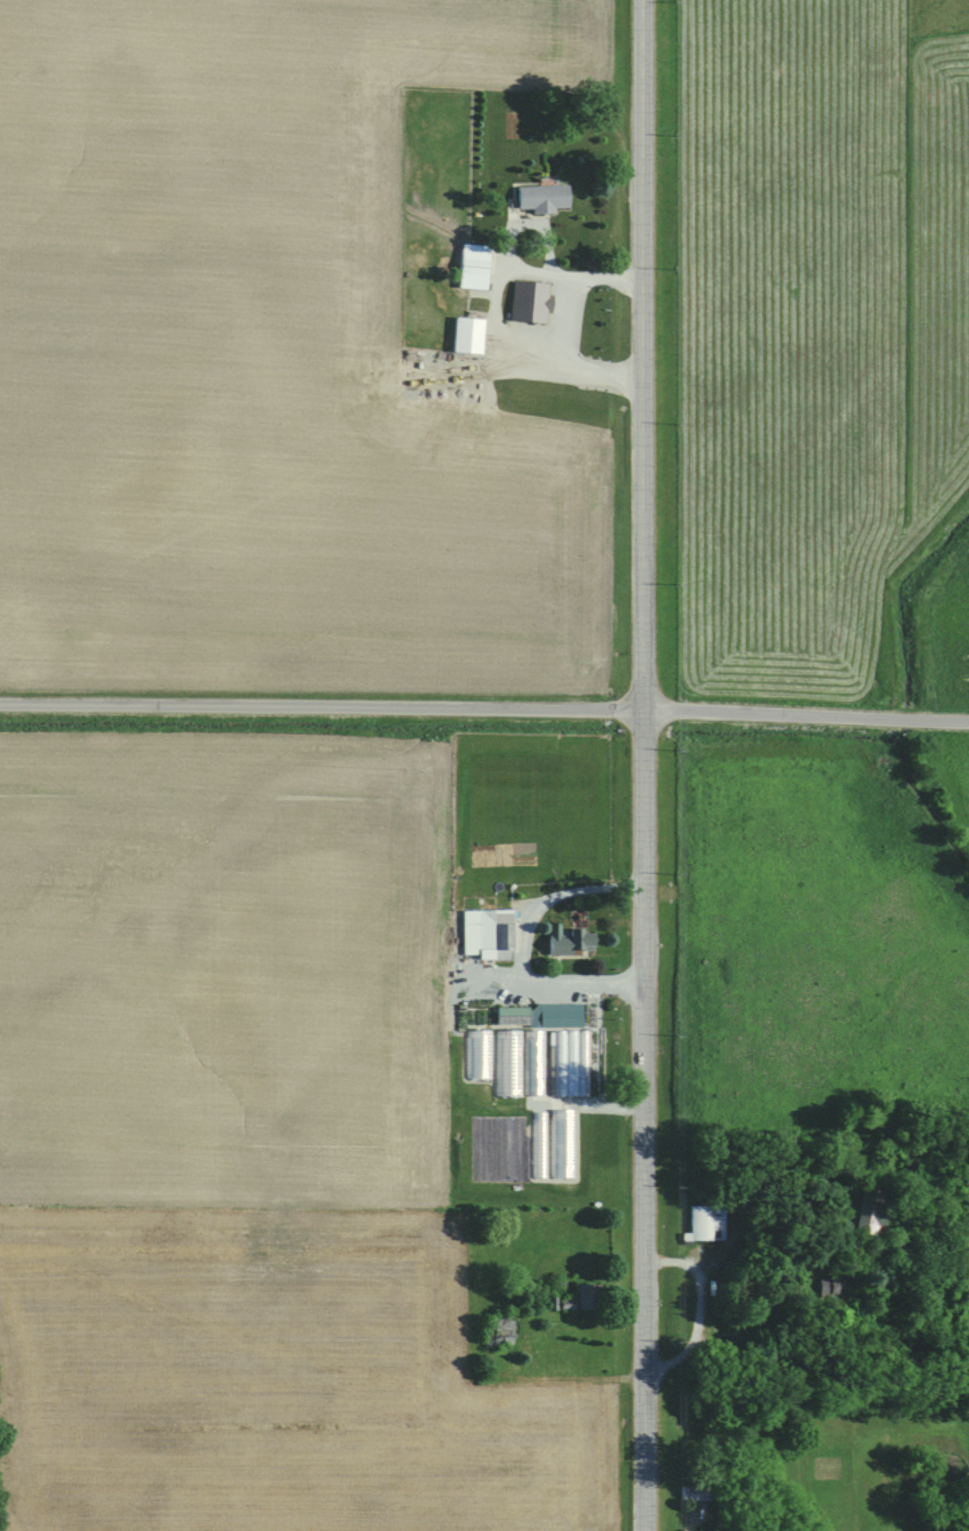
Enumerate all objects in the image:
building: (543, 199)
building: (476, 259)
building: (531, 301)
road: (493, 308)
road: (570, 321)
building: (469, 335)
road: (484, 706)
road: (643, 765)
building: (489, 934)
building: (574, 942)
road: (521, 952)
building: (540, 1016)
building: (509, 1062)
building: (557, 1063)
building: (871, 1212)
building: (708, 1222)
building: (832, 1288)
building: (586, 1297)
road: (698, 1313)
building: (502, 1332)
building: (697, 1493)

